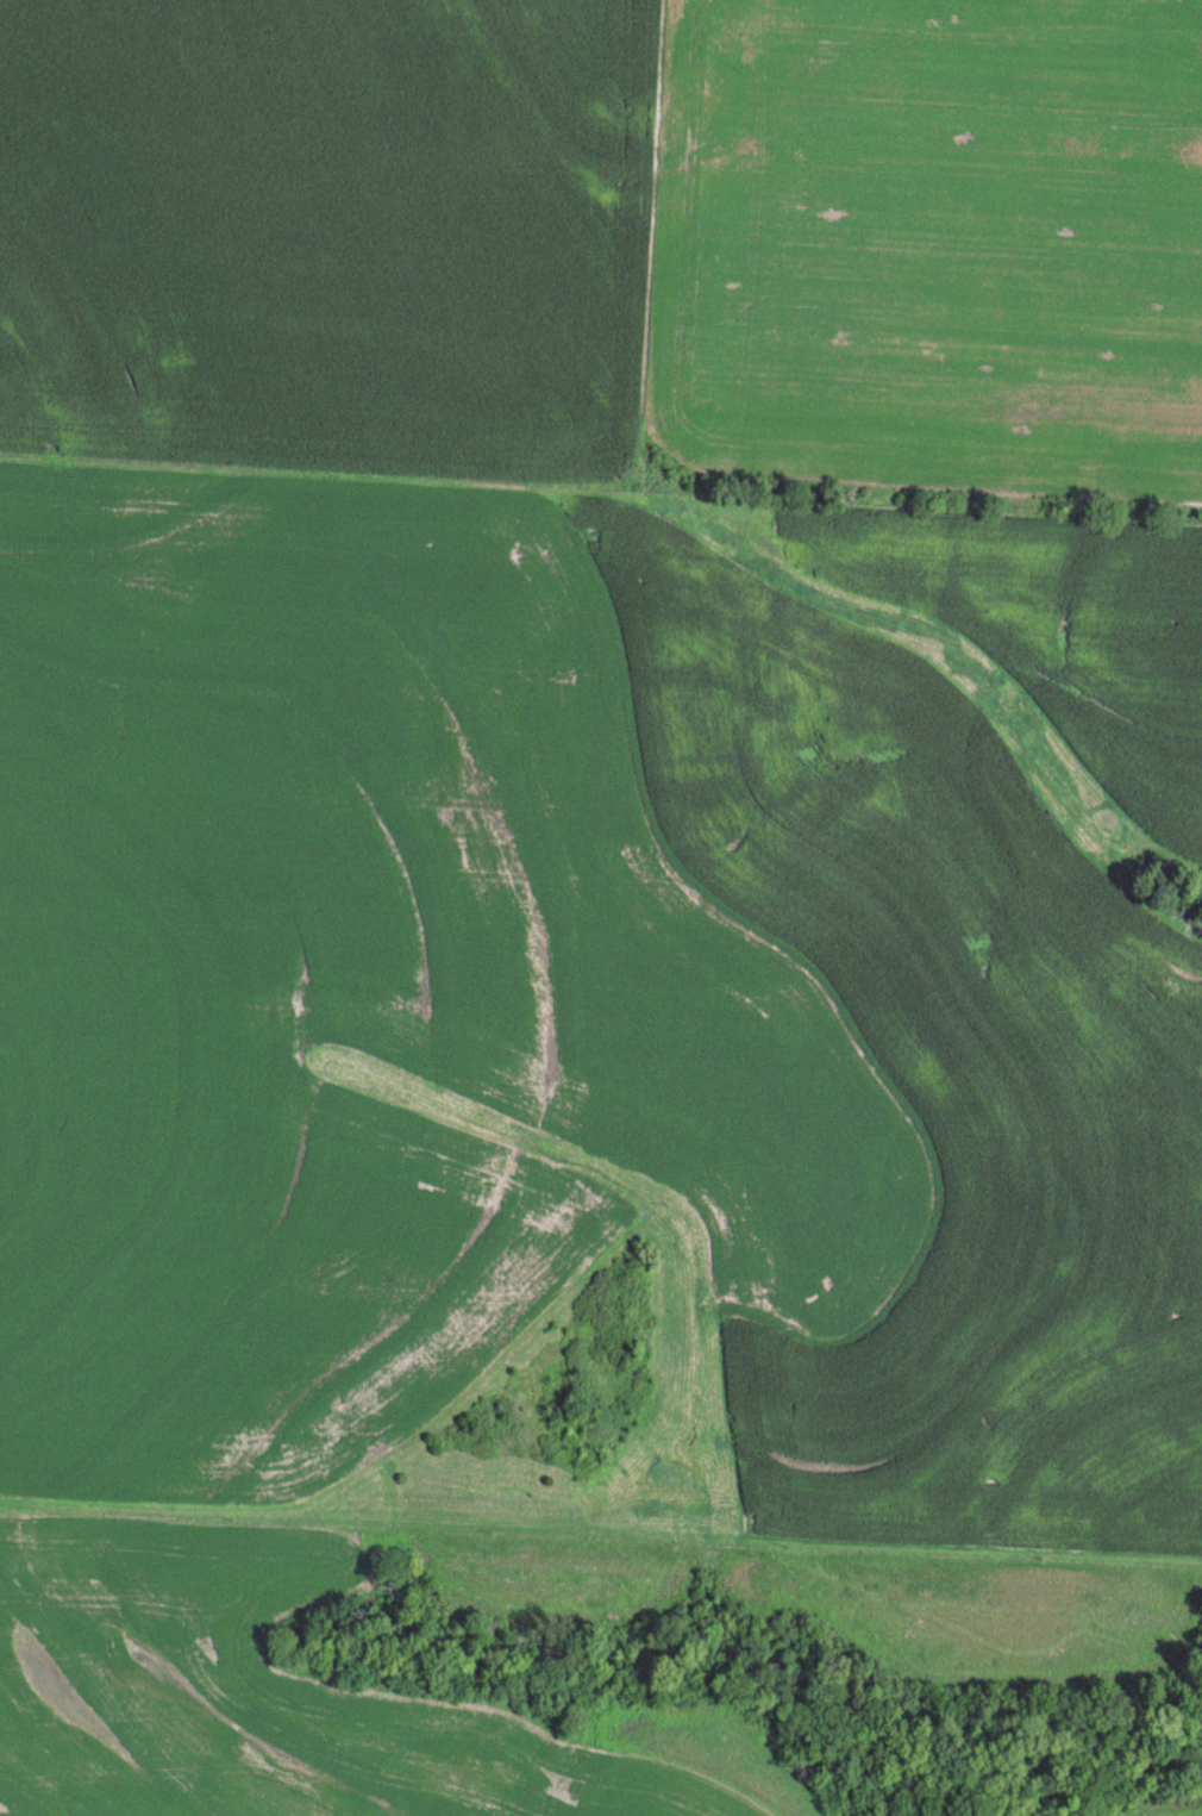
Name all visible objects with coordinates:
road: (601, 1524)

